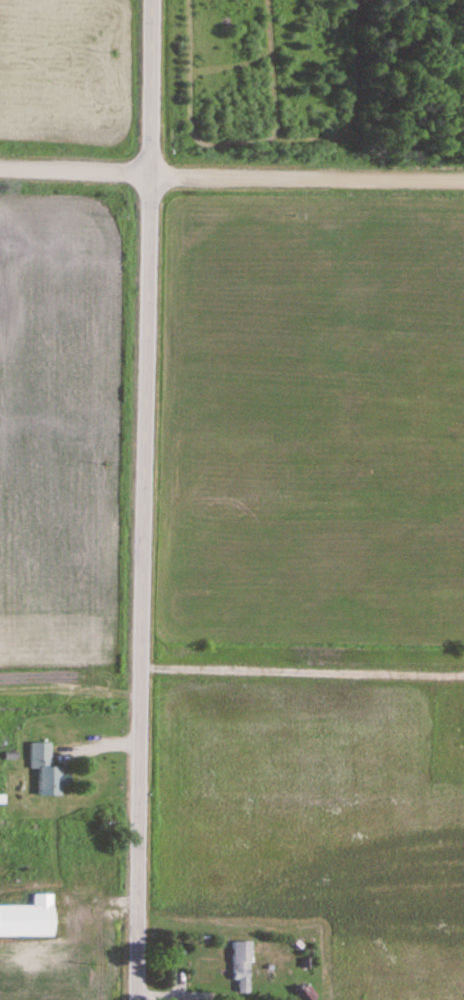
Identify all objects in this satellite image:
road: (231, 176)
road: (144, 500)
building: (45, 769)
building: (28, 920)
building: (242, 968)

